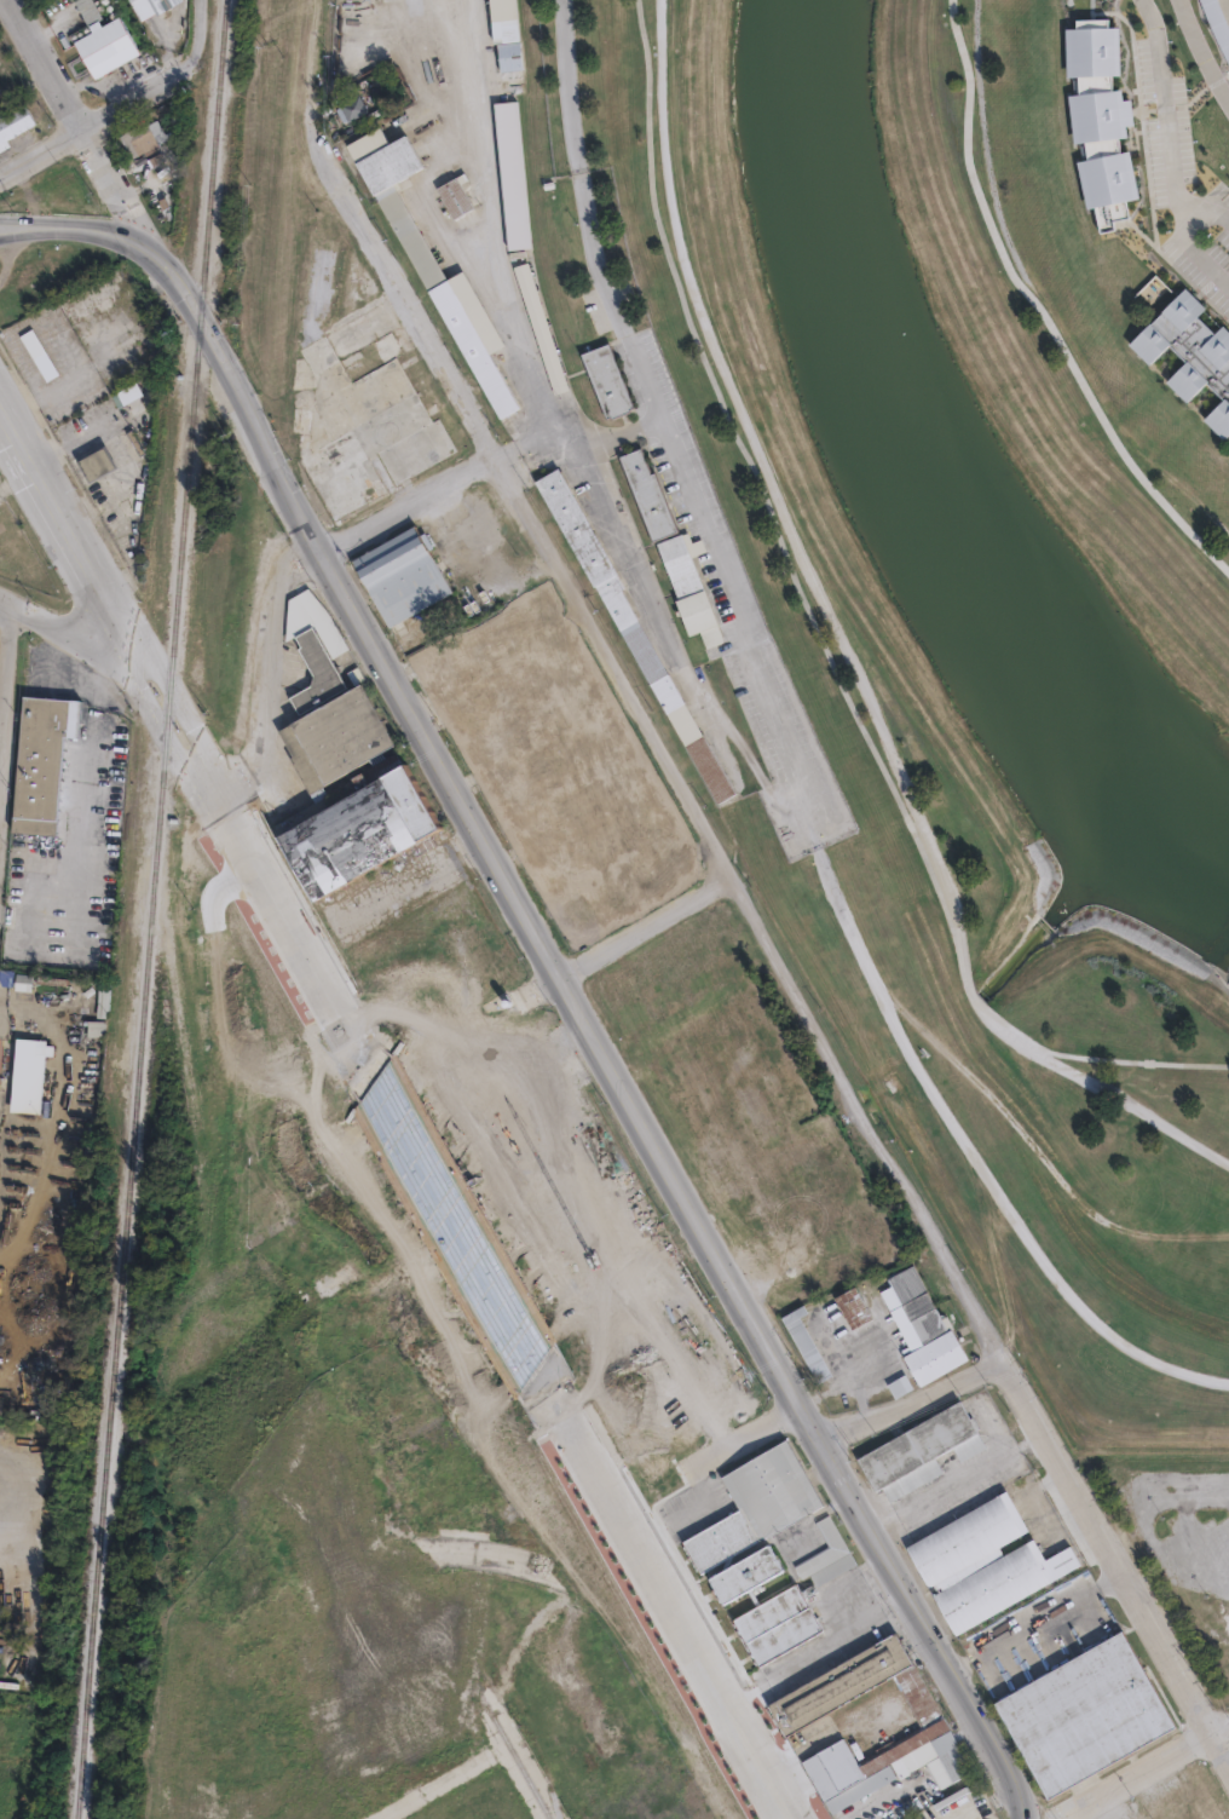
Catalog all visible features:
building: (161, 5)
road: (203, 7)
building: (507, 35)
building: (105, 45)
road: (1200, 52)
building: (347, 99)
building: (352, 108)
road: (119, 109)
building: (8, 114)
building: (1097, 117)
road: (80, 121)
road: (1169, 128)
building: (154, 143)
building: (513, 174)
building: (448, 189)
road: (71, 226)
road: (487, 234)
road: (1192, 251)
building: (425, 257)
road: (1044, 311)
building: (541, 328)
building: (1183, 346)
building: (28, 350)
building: (40, 355)
building: (126, 361)
building: (608, 381)
building: (121, 387)
building: (90, 459)
river: (933, 476)
road: (450, 478)
road: (521, 500)
road: (58, 519)
building: (402, 576)
park: (952, 580)
road: (58, 629)
road: (853, 640)
road: (265, 667)
road: (5, 669)
building: (315, 669)
road: (790, 753)
building: (42, 765)
road: (248, 848)
building: (583, 854)
railway: (152, 909)
road: (645, 928)
building: (24, 982)
dam: (1228, 982)
building: (100, 1012)
road: (585, 1030)
road: (1132, 1059)
building: (27, 1075)
road: (456, 1226)
building: (854, 1305)
building: (272, 1320)
road: (980, 1320)
building: (922, 1323)
building: (810, 1345)
building: (900, 1386)
road: (910, 1401)
road: (992, 1431)
road: (745, 1440)
building: (921, 1450)
building: (433, 1477)
road: (954, 1480)
building: (278, 1481)
building: (755, 1504)
parking lot: (1190, 1554)
building: (983, 1561)
building: (745, 1572)
road: (829, 1584)
building: (374, 1594)
road: (662, 1595)
building: (792, 1600)
building: (249, 1616)
road: (1032, 1616)
road: (817, 1652)
building: (797, 1714)
building: (1083, 1716)
road: (502, 1729)
building: (267, 1743)
building: (438, 1745)
road: (1143, 1773)
road: (445, 1781)
building: (860, 1789)
road: (879, 1801)
building: (480, 1803)
road: (1106, 1806)

